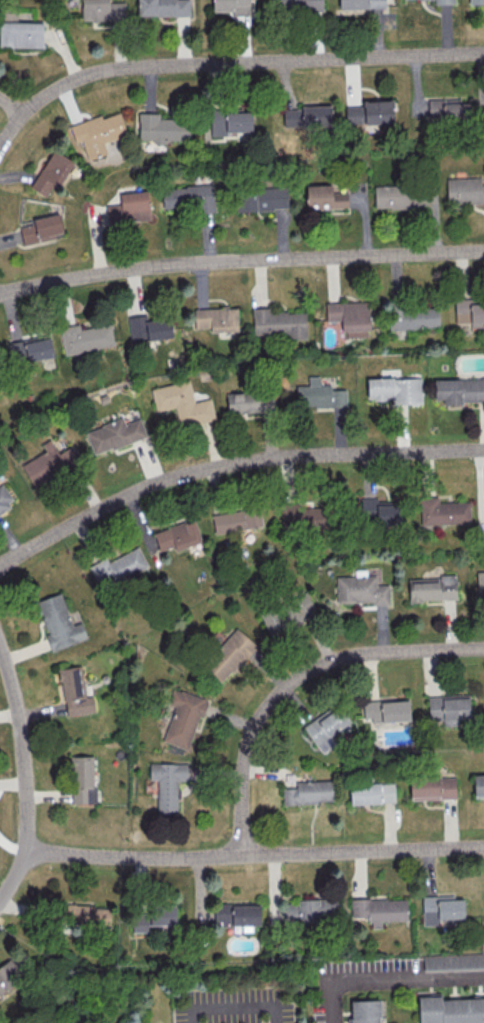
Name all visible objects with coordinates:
building: (271, 0)
building: (443, 1)
building: (476, 1)
building: (361, 4)
building: (298, 5)
building: (233, 6)
building: (163, 7)
building: (103, 11)
building: (21, 34)
road: (228, 64)
road: (11, 108)
building: (447, 110)
building: (370, 112)
building: (316, 116)
building: (292, 117)
building: (230, 121)
building: (162, 128)
building: (98, 132)
building: (51, 173)
building: (464, 191)
building: (188, 197)
building: (324, 197)
building: (261, 198)
building: (404, 198)
building: (129, 208)
building: (41, 229)
road: (240, 261)
building: (470, 311)
building: (350, 317)
building: (413, 317)
building: (216, 319)
building: (279, 323)
building: (148, 328)
building: (85, 337)
building: (30, 349)
building: (395, 389)
building: (459, 390)
building: (319, 394)
building: (250, 402)
building: (182, 403)
building: (114, 434)
building: (49, 463)
road: (230, 463)
building: (5, 498)
building: (379, 511)
building: (443, 511)
building: (304, 514)
building: (236, 519)
building: (177, 535)
building: (118, 568)
building: (480, 584)
building: (432, 588)
building: (360, 589)
building: (287, 613)
building: (59, 622)
building: (229, 655)
road: (296, 681)
building: (75, 691)
building: (447, 709)
building: (386, 710)
building: (183, 717)
building: (326, 727)
road: (26, 775)
building: (82, 779)
building: (167, 784)
building: (478, 785)
building: (432, 787)
building: (308, 792)
building: (371, 793)
road: (255, 856)
building: (441, 908)
building: (379, 909)
building: (309, 910)
building: (236, 914)
building: (86, 915)
building: (152, 917)
building: (453, 962)
building: (10, 974)
road: (386, 976)
road: (233, 1005)
building: (450, 1009)
building: (364, 1011)

